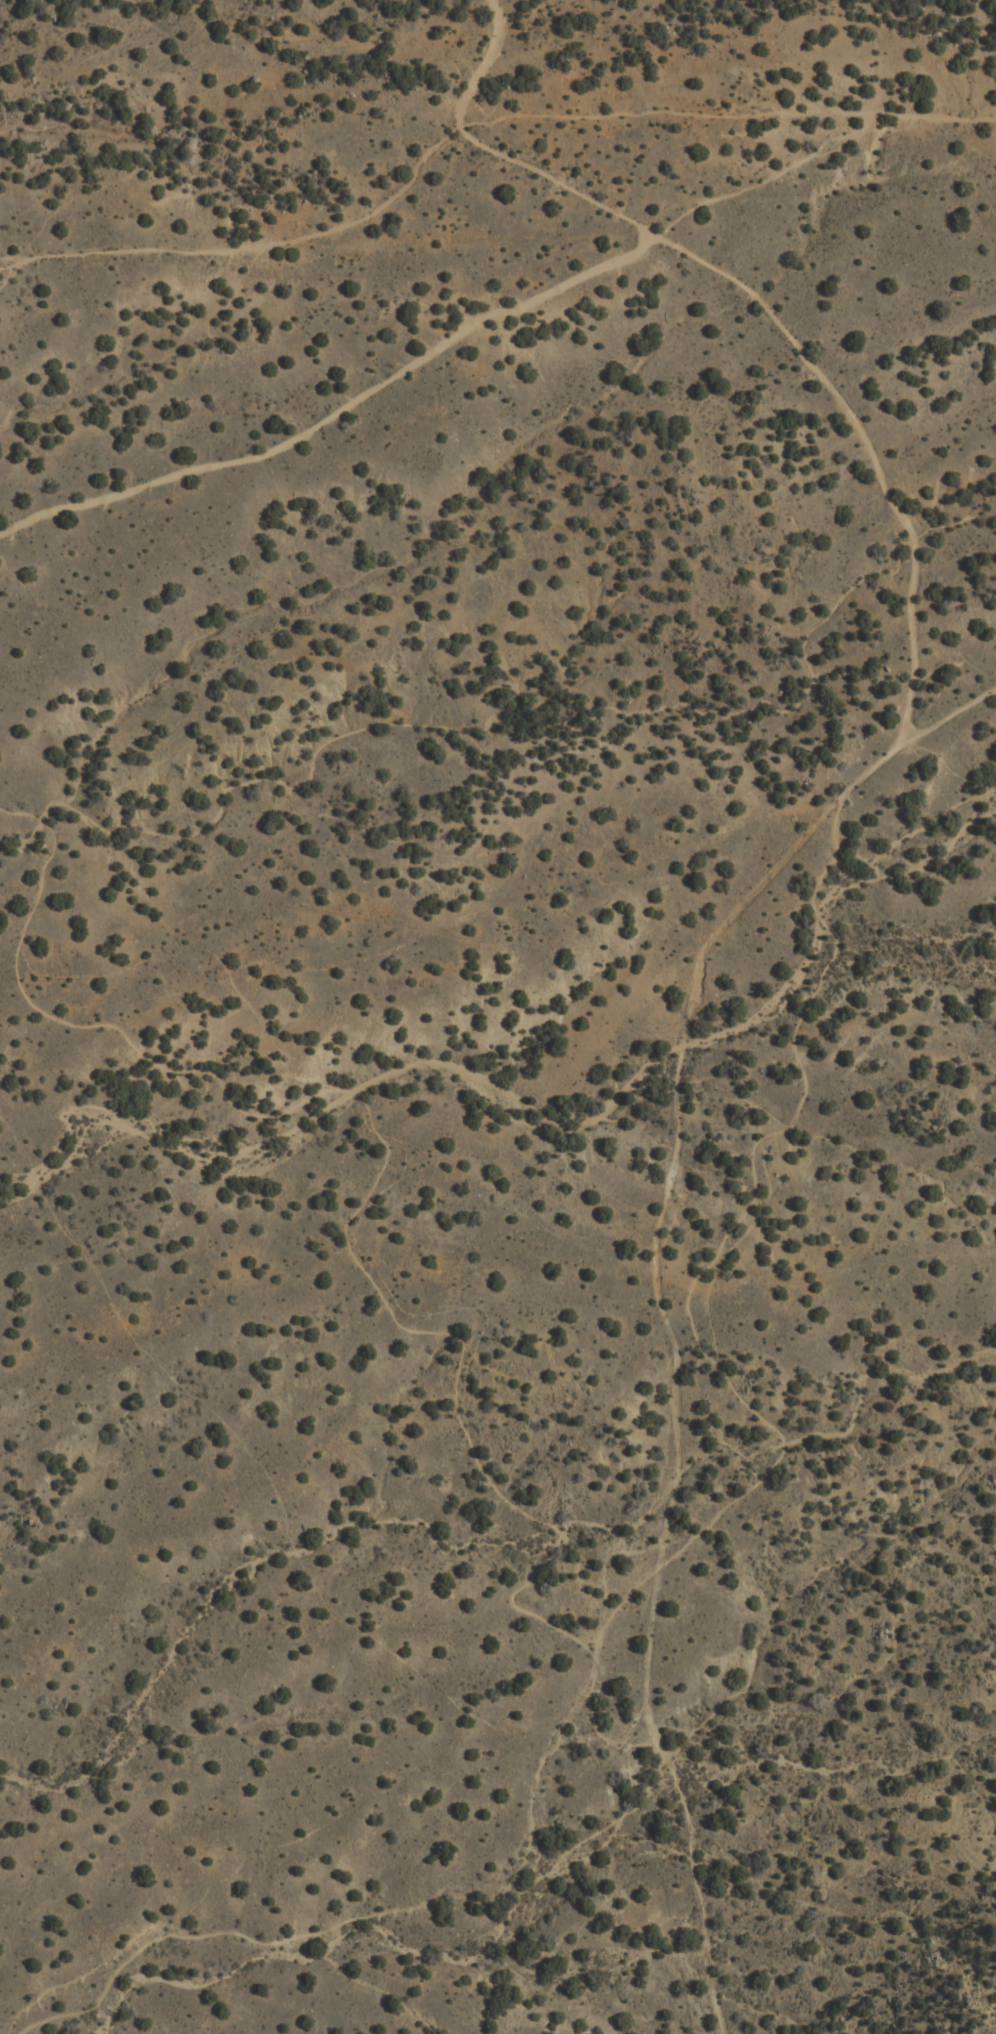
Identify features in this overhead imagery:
road: (474, 121)
road: (459, 336)
road: (954, 716)
road: (862, 775)
park: (457, 919)
road: (209, 951)
road: (392, 1150)
road: (633, 1552)
road: (694, 1882)

